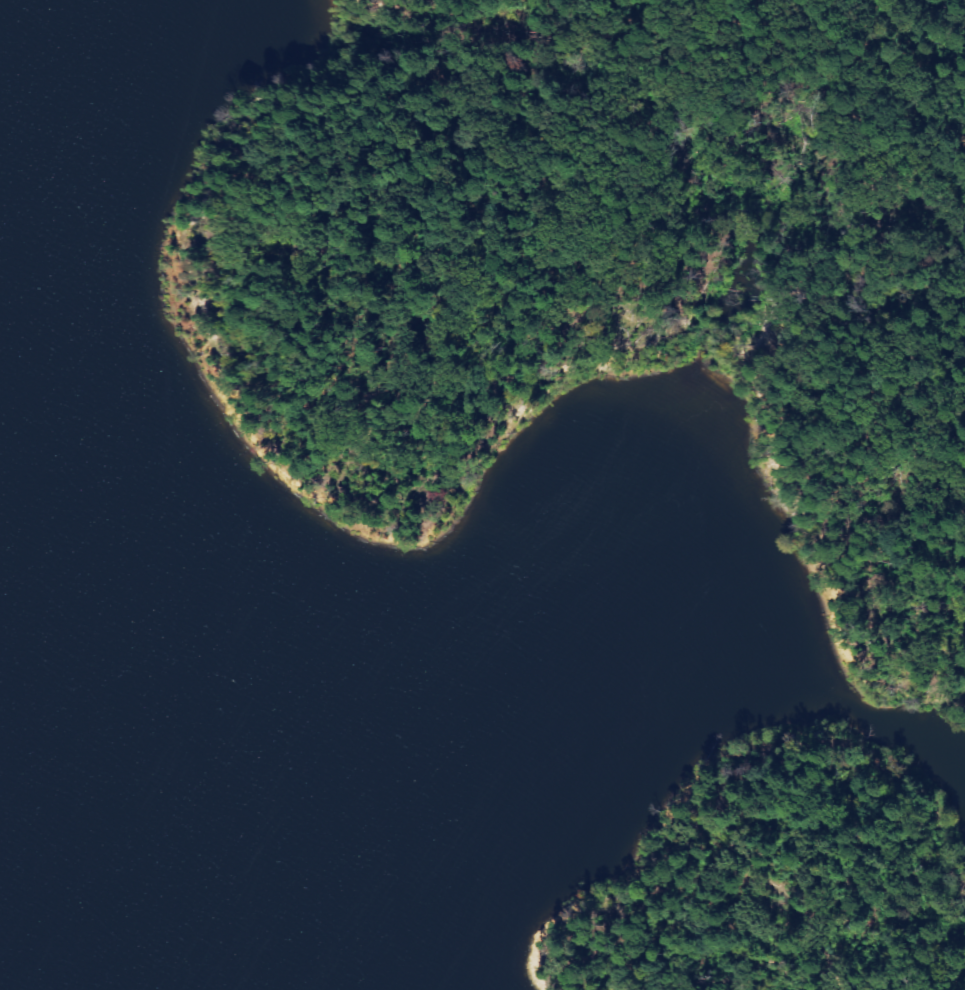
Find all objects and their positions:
road: (805, 927)

